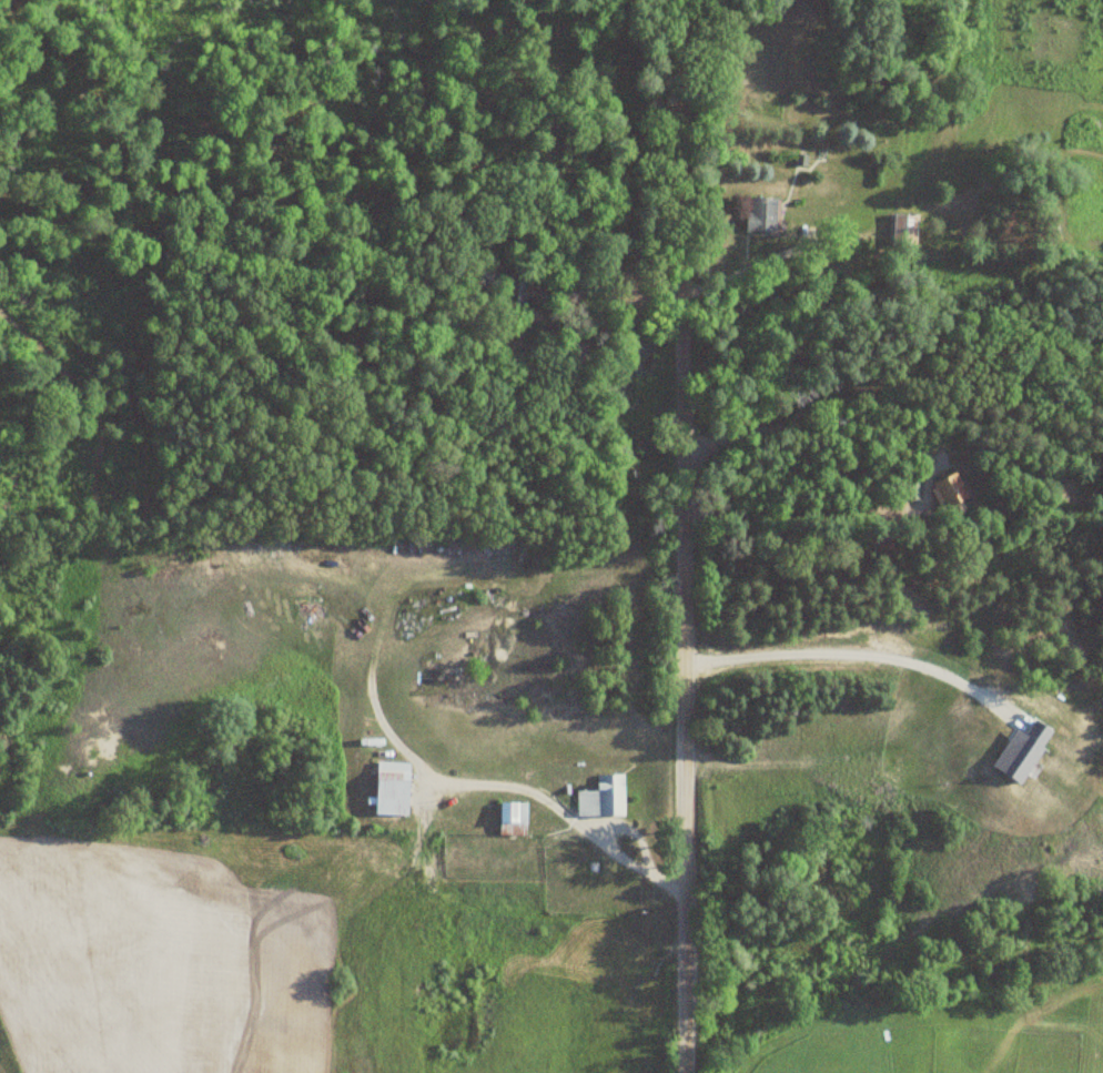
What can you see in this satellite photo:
building: (758, 216)
building: (902, 231)
building: (529, 292)
building: (909, 489)
building: (943, 492)
road: (680, 536)
building: (388, 789)
building: (600, 798)
building: (510, 819)

